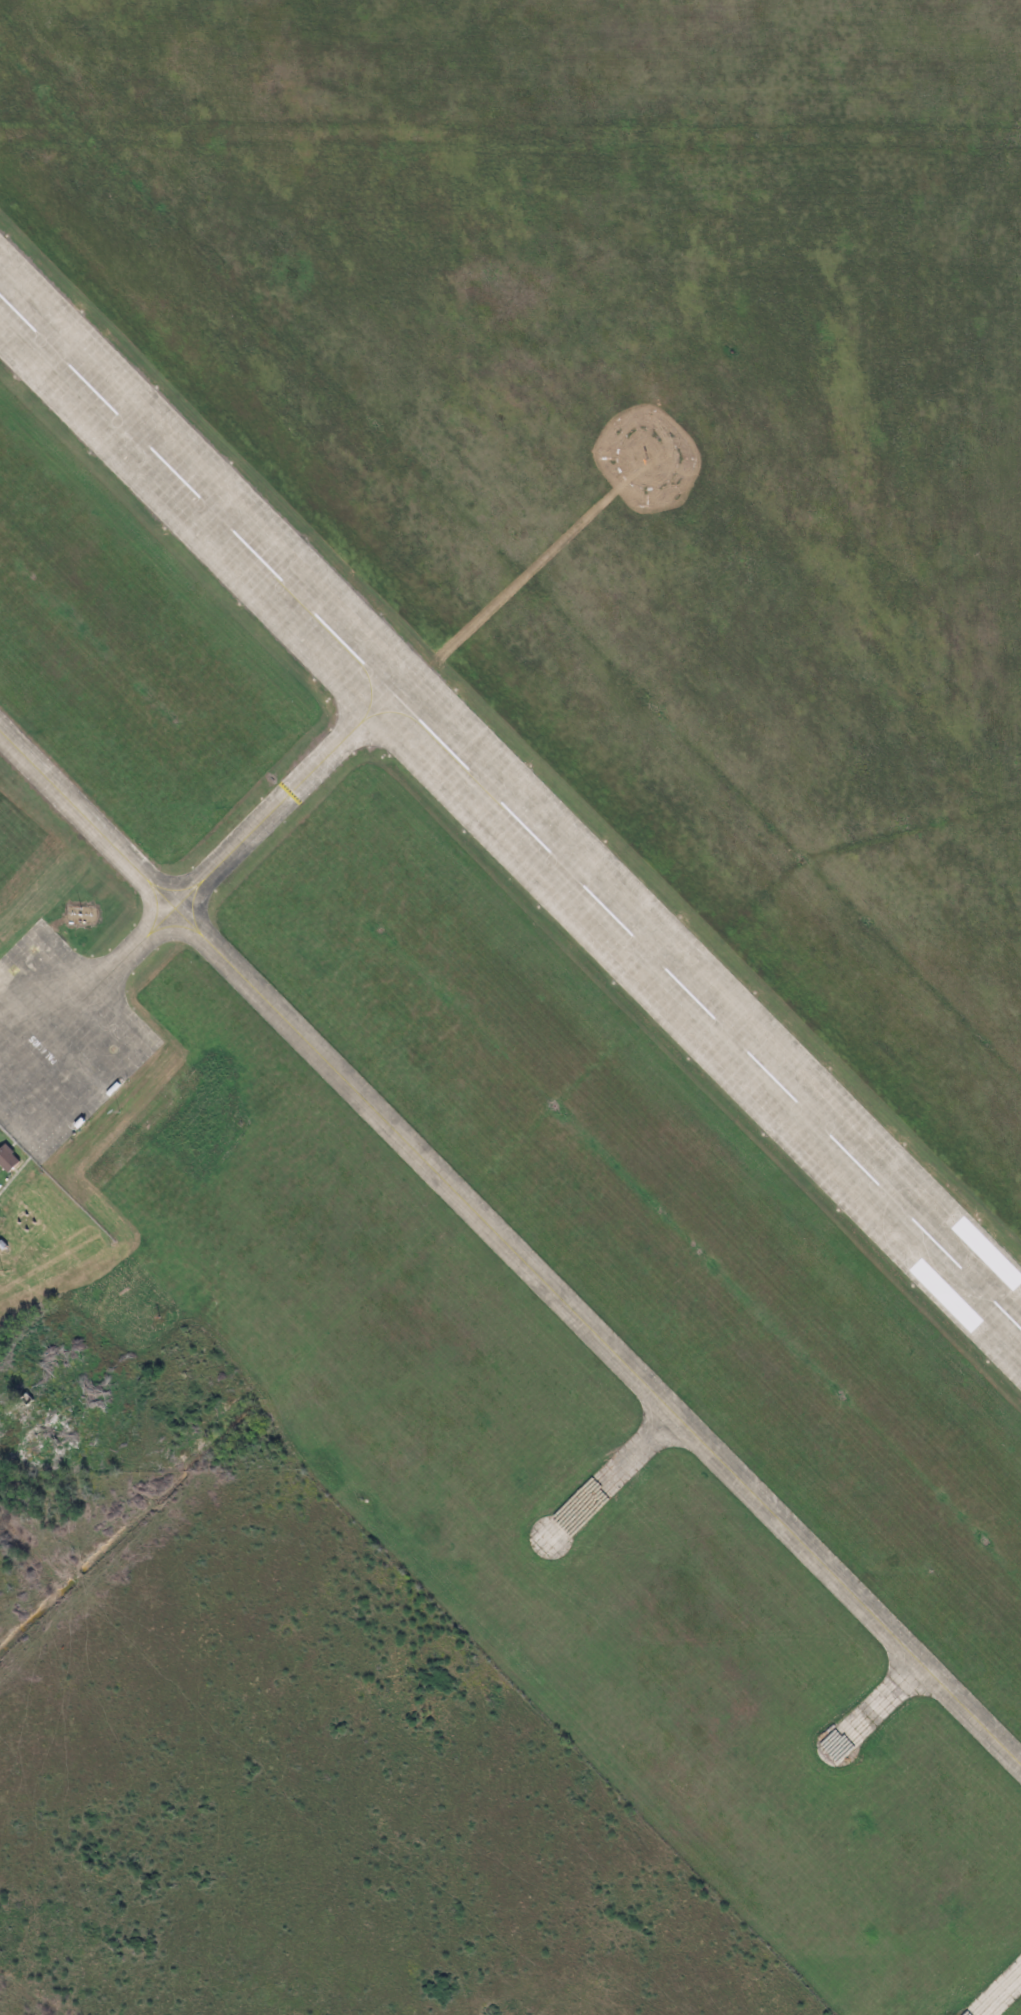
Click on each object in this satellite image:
airport runway: (510, 814)
airport taxiway: (213, 866)
airport: (547, 869)
airport apron: (60, 1044)
building: (9, 1159)
airport taxiway: (510, 1249)

